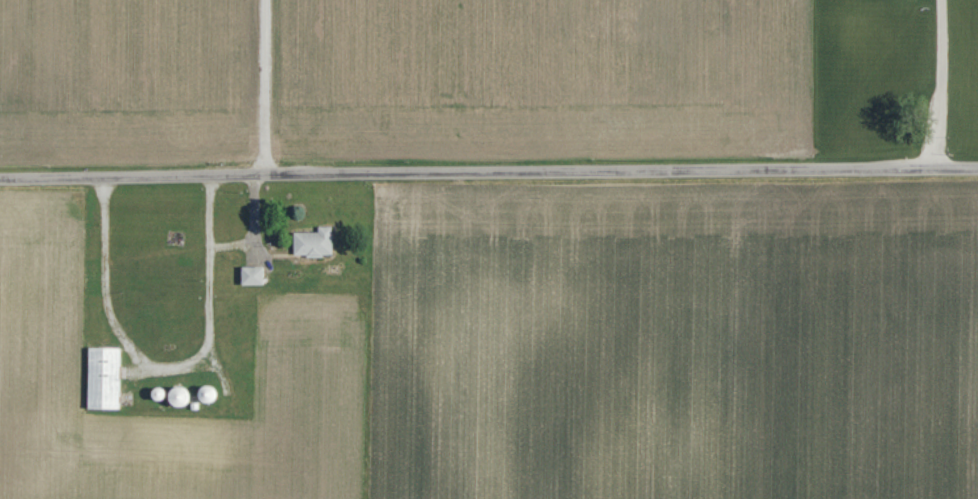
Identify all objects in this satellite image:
road: (938, 77)
road: (488, 160)
road: (254, 227)
building: (313, 243)
building: (251, 275)
building: (89, 276)
road: (165, 371)
building: (104, 379)

